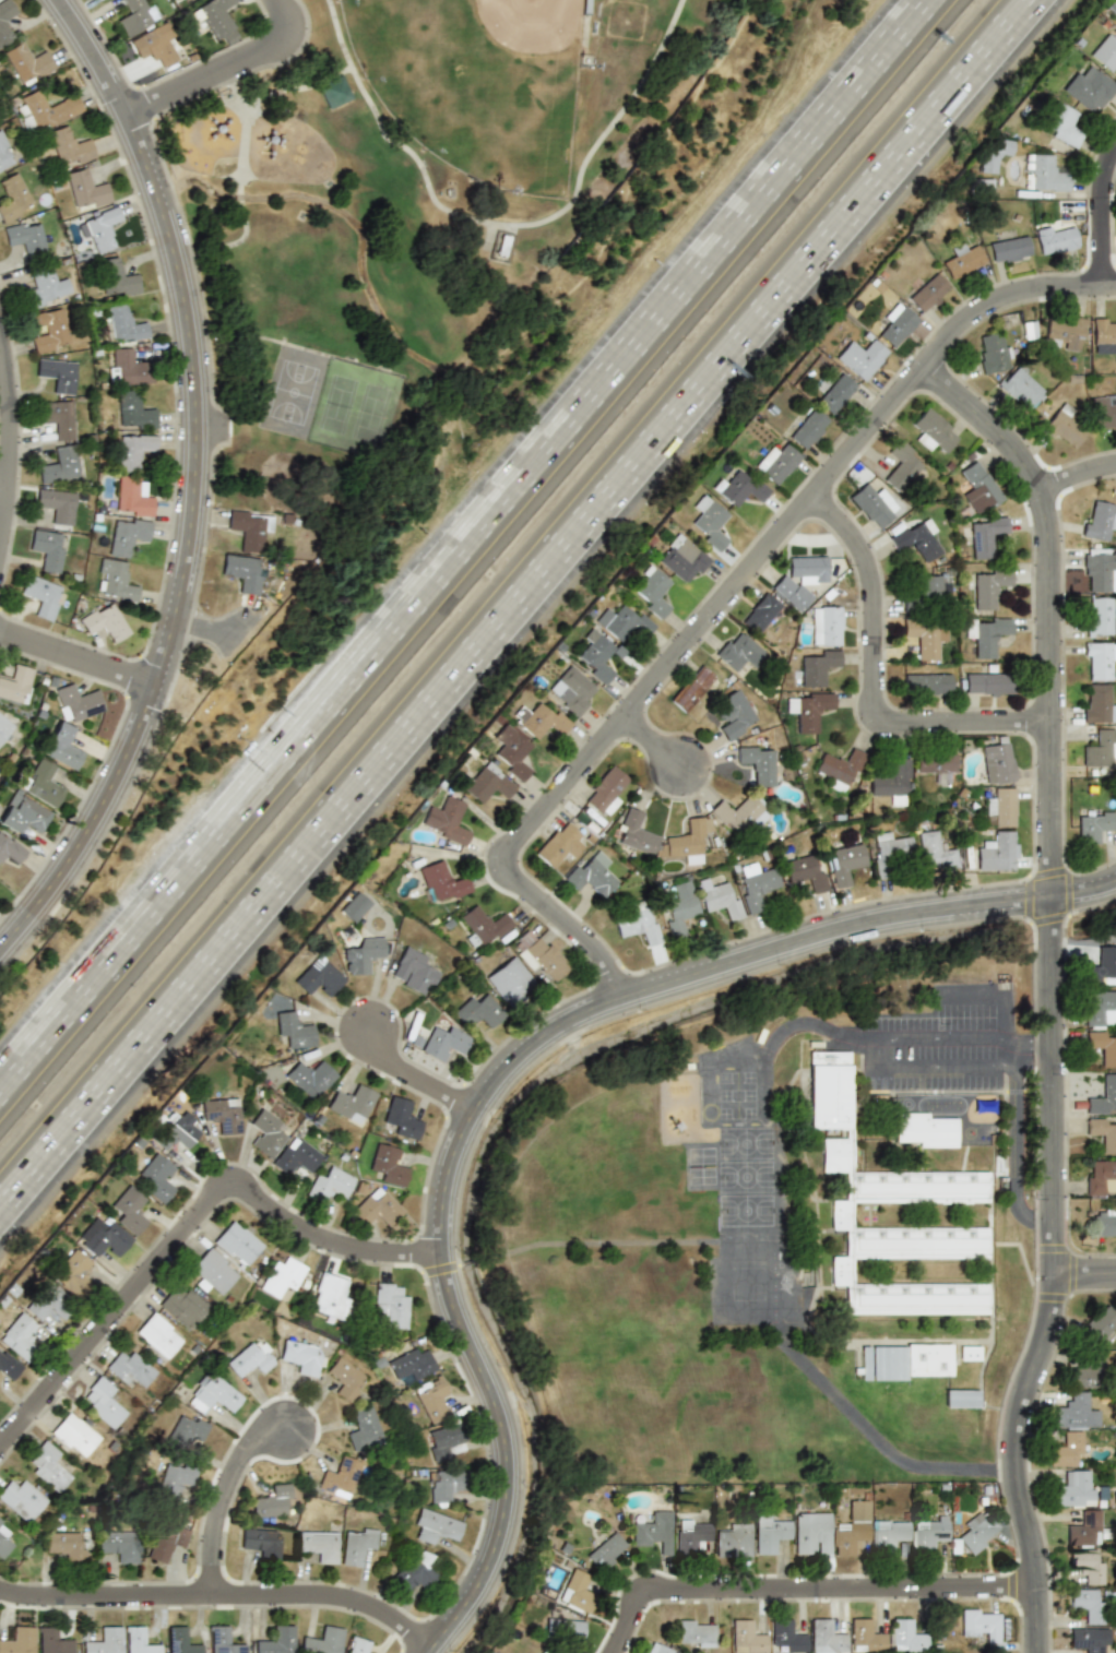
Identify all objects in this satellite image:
building: (103, 0)
building: (135, 15)
building: (215, 19)
building: (7, 22)
building: (153, 46)
building: (1105, 52)
building: (26, 62)
road: (224, 67)
building: (1088, 88)
building: (334, 92)
building: (45, 110)
building: (1061, 123)
building: (70, 145)
building: (5, 153)
building: (990, 156)
building: (1044, 175)
building: (86, 189)
building: (13, 198)
road: (1101, 213)
park: (451, 221)
building: (99, 227)
building: (26, 238)
building: (1055, 238)
building: (1008, 247)
building: (962, 260)
road: (800, 275)
building: (116, 277)
building: (45, 287)
building: (928, 292)
building: (123, 323)
building: (898, 326)
building: (48, 330)
building: (1066, 333)
building: (1104, 333)
building: (990, 352)
building: (862, 357)
building: (127, 367)
building: (57, 374)
building: (1020, 389)
park: (292, 392)
building: (835, 393)
park: (353, 409)
building: (133, 411)
building: (1104, 412)
building: (57, 418)
building: (809, 428)
building: (1065, 428)
building: (933, 430)
road: (19, 443)
building: (133, 450)
building: (776, 463)
building: (60, 464)
building: (901, 464)
road: (1075, 473)
building: (740, 488)
building: (980, 488)
road: (9, 489)
road: (204, 492)
building: (132, 497)
building: (58, 506)
building: (870, 506)
building: (1097, 520)
building: (709, 522)
building: (248, 527)
building: (128, 535)
building: (984, 535)
building: (915, 539)
road: (459, 540)
building: (47, 549)
building: (684, 559)
building: (808, 567)
building: (1100, 570)
building: (241, 572)
building: (115, 580)
building: (989, 586)
building: (930, 590)
building: (653, 592)
building: (791, 593)
road: (724, 596)
building: (40, 597)
building: (760, 614)
building: (1099, 619)
building: (621, 621)
building: (104, 622)
building: (826, 625)
road: (216, 632)
building: (987, 634)
building: (924, 637)
building: (737, 651)
building: (596, 655)
road: (83, 661)
building: (1100, 661)
building: (815, 667)
road: (883, 677)
building: (15, 683)
building: (926, 683)
building: (987, 685)
building: (691, 688)
building: (571, 691)
building: (76, 701)
building: (1099, 703)
building: (811, 710)
building: (735, 713)
building: (544, 721)
building: (5, 725)
road: (657, 744)
building: (61, 746)
building: (1097, 749)
building: (511, 751)
building: (758, 763)
building: (935, 763)
building: (996, 763)
building: (840, 768)
building: (892, 782)
building: (43, 783)
building: (485, 784)
building: (604, 790)
building: (1002, 807)
building: (736, 811)
building: (22, 813)
building: (447, 820)
building: (1094, 825)
building: (634, 832)
building: (687, 842)
building: (559, 844)
building: (10, 851)
building: (934, 852)
building: (996, 852)
building: (889, 853)
building: (845, 861)
building: (805, 870)
building: (591, 873)
road: (283, 882)
building: (441, 882)
building: (757, 884)
building: (719, 897)
building: (354, 906)
building: (679, 907)
building: (637, 924)
building: (482, 927)
building: (359, 951)
building: (541, 954)
building: (1102, 964)
building: (413, 971)
building: (318, 977)
building: (510, 980)
road: (1048, 988)
road: (970, 996)
building: (1100, 1009)
building: (478, 1011)
road: (1004, 1016)
road: (810, 1024)
building: (294, 1028)
road: (935, 1036)
road: (1026, 1039)
building: (443, 1043)
building: (1103, 1047)
road: (865, 1053)
road: (1002, 1055)
road: (504, 1059)
road: (933, 1071)
building: (311, 1075)
road: (418, 1078)
building: (1103, 1094)
building: (352, 1101)
building: (222, 1115)
building: (401, 1120)
building: (924, 1130)
building: (177, 1131)
building: (265, 1133)
building: (1103, 1133)
road: (1013, 1154)
building: (296, 1157)
building: (389, 1165)
building: (1100, 1176)
building: (158, 1177)
building: (329, 1185)
building: (914, 1186)
building: (376, 1208)
building: (131, 1210)
building: (1104, 1222)
building: (104, 1238)
road: (193, 1239)
building: (237, 1244)
road: (1083, 1263)
building: (74, 1266)
building: (213, 1271)
building: (282, 1276)
building: (330, 1295)
building: (49, 1303)
building: (390, 1306)
building: (185, 1307)
building: (1097, 1323)
building: (20, 1335)
building: (158, 1335)
building: (970, 1352)
building: (306, 1354)
building: (249, 1359)
building: (905, 1360)
building: (411, 1364)
building: (8, 1366)
building: (129, 1368)
building: (1084, 1370)
building: (345, 1377)
building: (212, 1393)
building: (431, 1398)
building: (961, 1398)
building: (104, 1402)
building: (1072, 1412)
building: (364, 1426)
building: (187, 1429)
building: (73, 1434)
building: (442, 1440)
road: (877, 1446)
building: (1064, 1449)
building: (49, 1465)
building: (174, 1478)
building: (340, 1478)
building: (444, 1485)
building: (1071, 1489)
building: (21, 1499)
building: (270, 1502)
road: (231, 1508)
building: (434, 1525)
building: (850, 1527)
building: (1081, 1529)
building: (654, 1531)
building: (975, 1531)
building: (770, 1533)
building: (811, 1533)
building: (887, 1535)
building: (925, 1535)
building: (691, 1536)
building: (3, 1538)
building: (733, 1539)
building: (166, 1542)
building: (262, 1543)
building: (63, 1544)
building: (115, 1544)
building: (356, 1544)
building: (319, 1545)
building: (606, 1551)
building: (1083, 1566)
building: (413, 1571)
building: (577, 1591)
road: (808, 1592)
building: (1083, 1603)
road: (218, 1604)
building: (982, 1627)
building: (563, 1628)
building: (696, 1633)
building: (786, 1636)
building: (823, 1636)
building: (864, 1636)
building: (904, 1636)
building: (747, 1637)
building: (17, 1640)
building: (52, 1640)
building: (180, 1640)
building: (222, 1640)
building: (275, 1640)
building: (1083, 1640)
building: (104, 1641)
building: (321, 1641)
building: (140, 1642)
building: (359, 1645)
building: (658, 1649)
building: (541, 1652)

